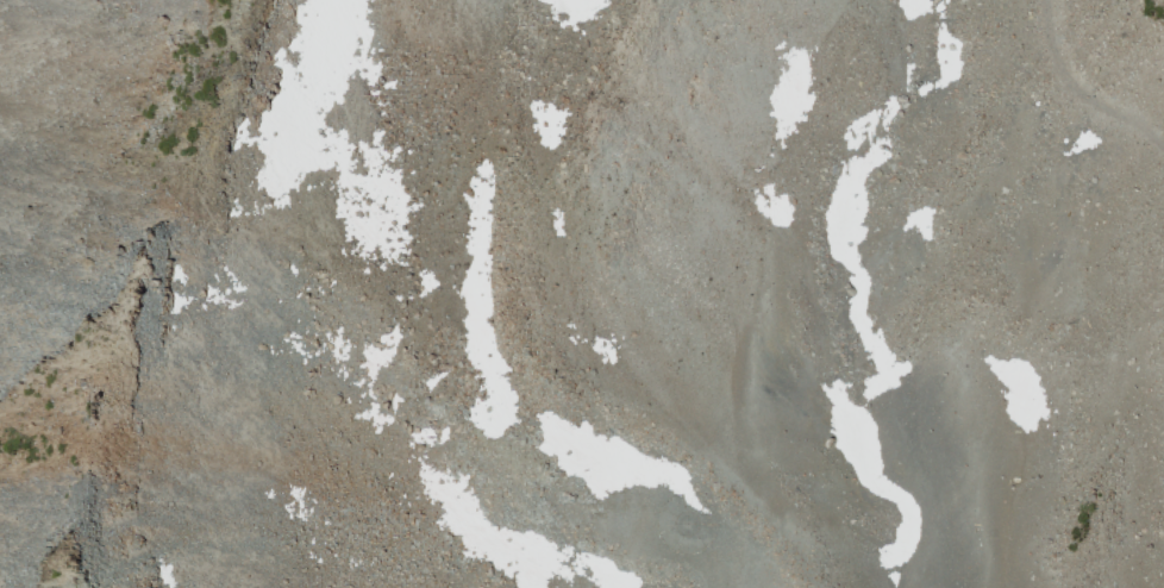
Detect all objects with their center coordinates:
road: (1077, 90)

